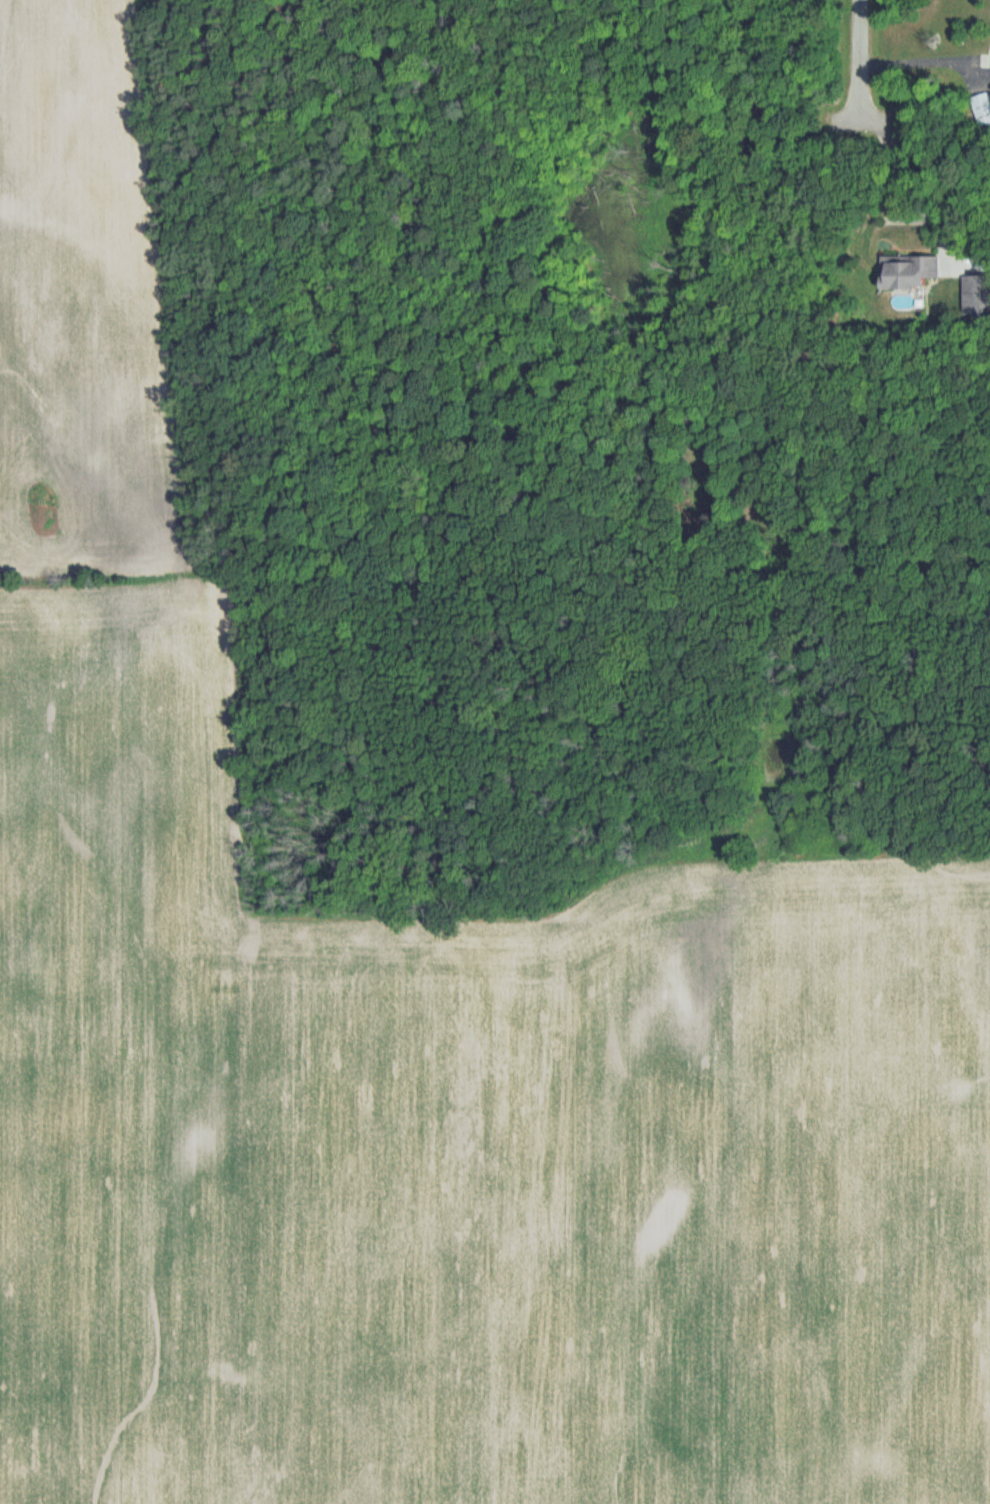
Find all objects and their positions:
road: (854, 51)
road: (926, 60)
building: (983, 108)
road: (915, 171)
building: (911, 271)

